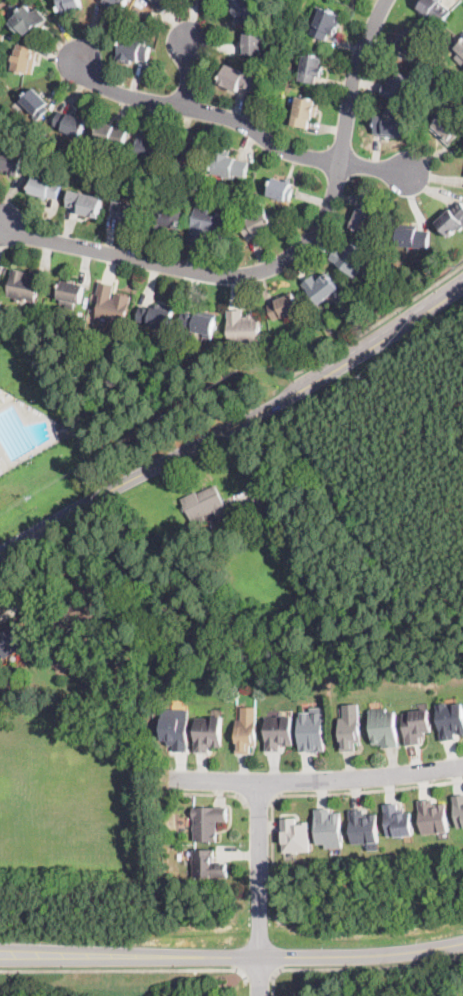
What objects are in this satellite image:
building: (115, 4)
building: (163, 4)
building: (13, 6)
building: (69, 6)
building: (244, 8)
building: (434, 9)
building: (27, 19)
building: (150, 23)
building: (326, 23)
building: (1, 35)
building: (412, 41)
building: (252, 44)
building: (460, 46)
building: (134, 49)
building: (24, 59)
building: (433, 63)
building: (311, 68)
road: (188, 74)
building: (238, 78)
building: (4, 87)
building: (402, 88)
building: (35, 103)
building: (304, 112)
road: (241, 122)
building: (70, 123)
building: (389, 124)
building: (447, 128)
building: (112, 134)
building: (149, 146)
building: (37, 150)
building: (118, 150)
building: (191, 150)
building: (12, 162)
building: (229, 165)
building: (45, 187)
building: (280, 189)
building: (85, 203)
building: (126, 212)
building: (366, 218)
building: (165, 219)
building: (452, 219)
building: (207, 225)
building: (257, 225)
building: (412, 236)
building: (350, 259)
road: (281, 260)
building: (1, 267)
building: (23, 286)
building: (320, 287)
building: (397, 290)
building: (69, 293)
building: (112, 304)
building: (284, 306)
building: (361, 313)
building: (156, 315)
building: (198, 322)
road: (377, 323)
building: (244, 330)
building: (121, 336)
road: (235, 426)
building: (64, 429)
building: (246, 484)
building: (204, 503)
building: (259, 536)
building: (15, 641)
building: (450, 720)
building: (416, 725)
building: (383, 727)
building: (349, 728)
building: (312, 729)
building: (246, 730)
building: (175, 732)
building: (208, 732)
building: (278, 732)
road: (316, 780)
road: (325, 792)
road: (223, 794)
road: (259, 802)
building: (459, 809)
building: (432, 817)
building: (397, 821)
building: (207, 822)
building: (363, 827)
building: (329, 828)
building: (295, 835)
building: (208, 865)
road: (260, 888)
road: (232, 956)
road: (355, 964)
road: (124, 969)
road: (257, 972)

